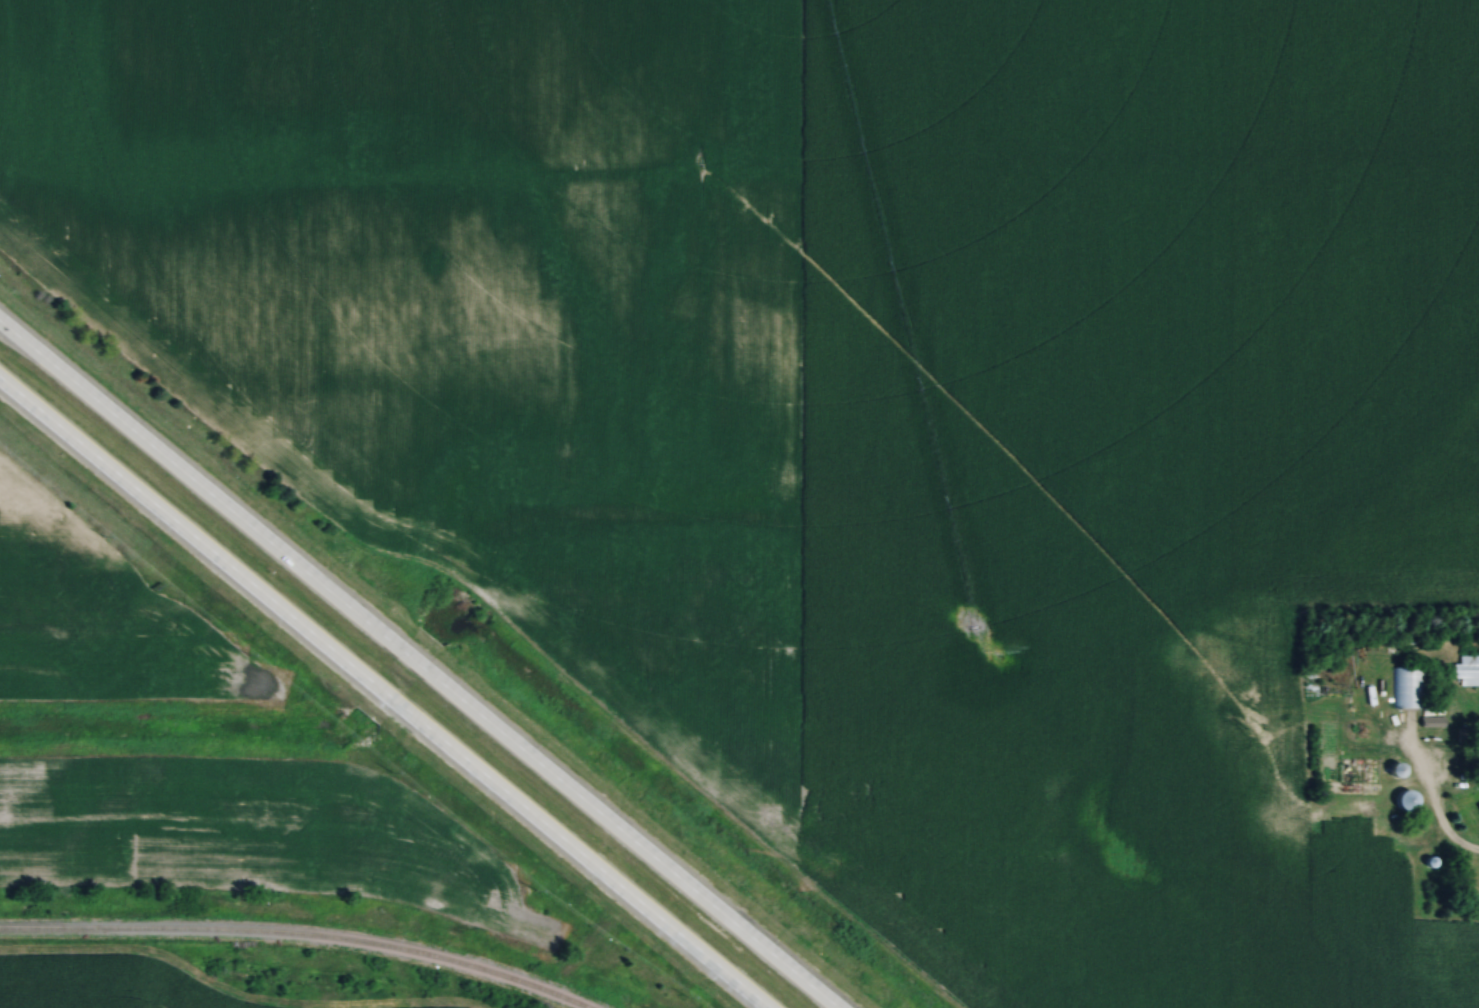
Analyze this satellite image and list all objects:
road: (420, 663)
building: (1467, 674)
building: (1409, 689)
road: (380, 696)
building: (1398, 771)
building: (1407, 801)
road: (1470, 849)
railway: (288, 935)

